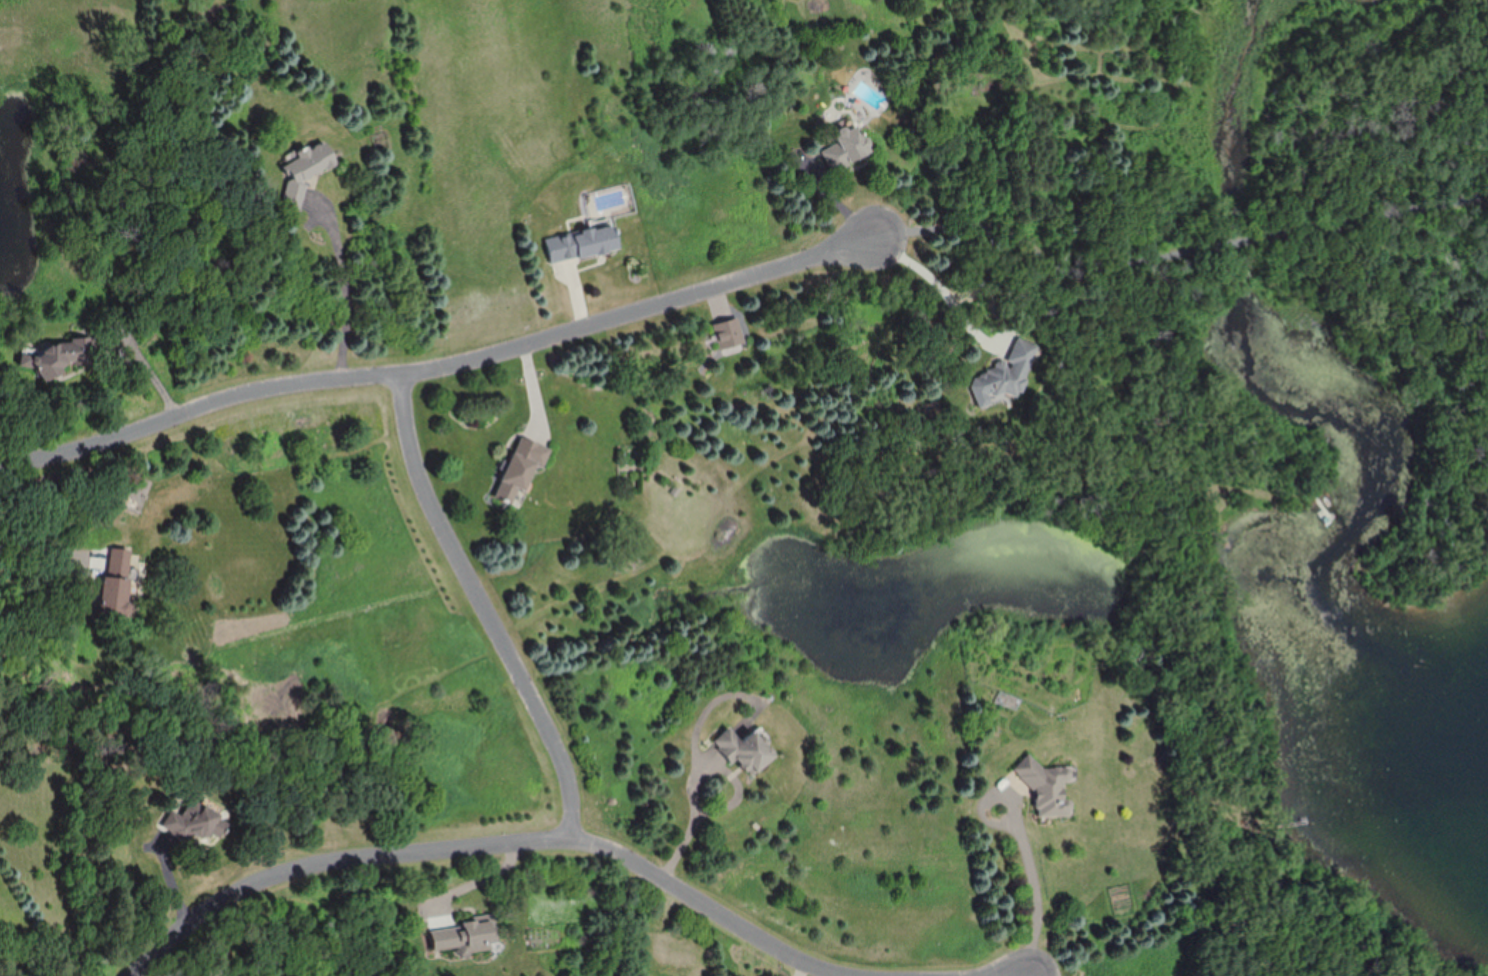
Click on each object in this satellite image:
building: (846, 146)
building: (304, 172)
building: (582, 242)
road: (1186, 253)
road: (349, 283)
building: (728, 332)
road: (974, 335)
building: (52, 355)
road: (449, 366)
road: (146, 369)
building: (1004, 380)
building: (519, 471)
road: (24, 556)
building: (114, 580)
road: (488, 608)
building: (744, 750)
road: (711, 770)
building: (1050, 789)
road: (990, 816)
building: (194, 823)
road: (494, 842)
road: (689, 843)
road: (1037, 893)
building: (464, 938)

